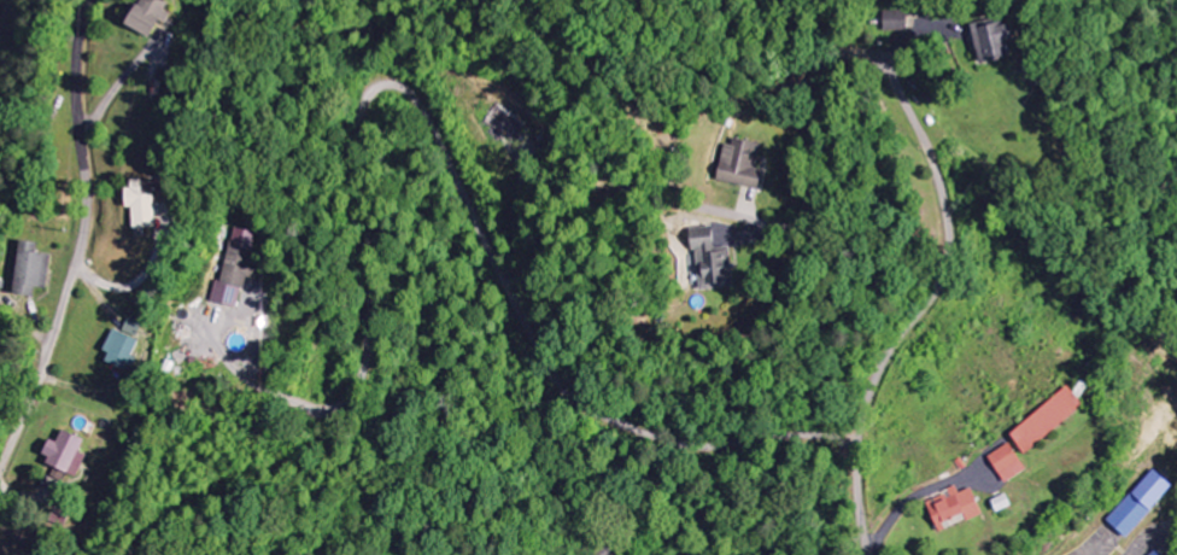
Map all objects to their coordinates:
building: (156, 16)
building: (895, 21)
building: (999, 41)
road: (440, 150)
building: (745, 164)
building: (151, 204)
road: (772, 221)
road: (83, 243)
building: (716, 261)
building: (240, 264)
building: (36, 270)
road: (936, 287)
building: (135, 328)
building: (124, 349)
building: (1049, 420)
building: (70, 456)
building: (1009, 463)
building: (1142, 502)
building: (958, 507)
building: (1159, 553)

